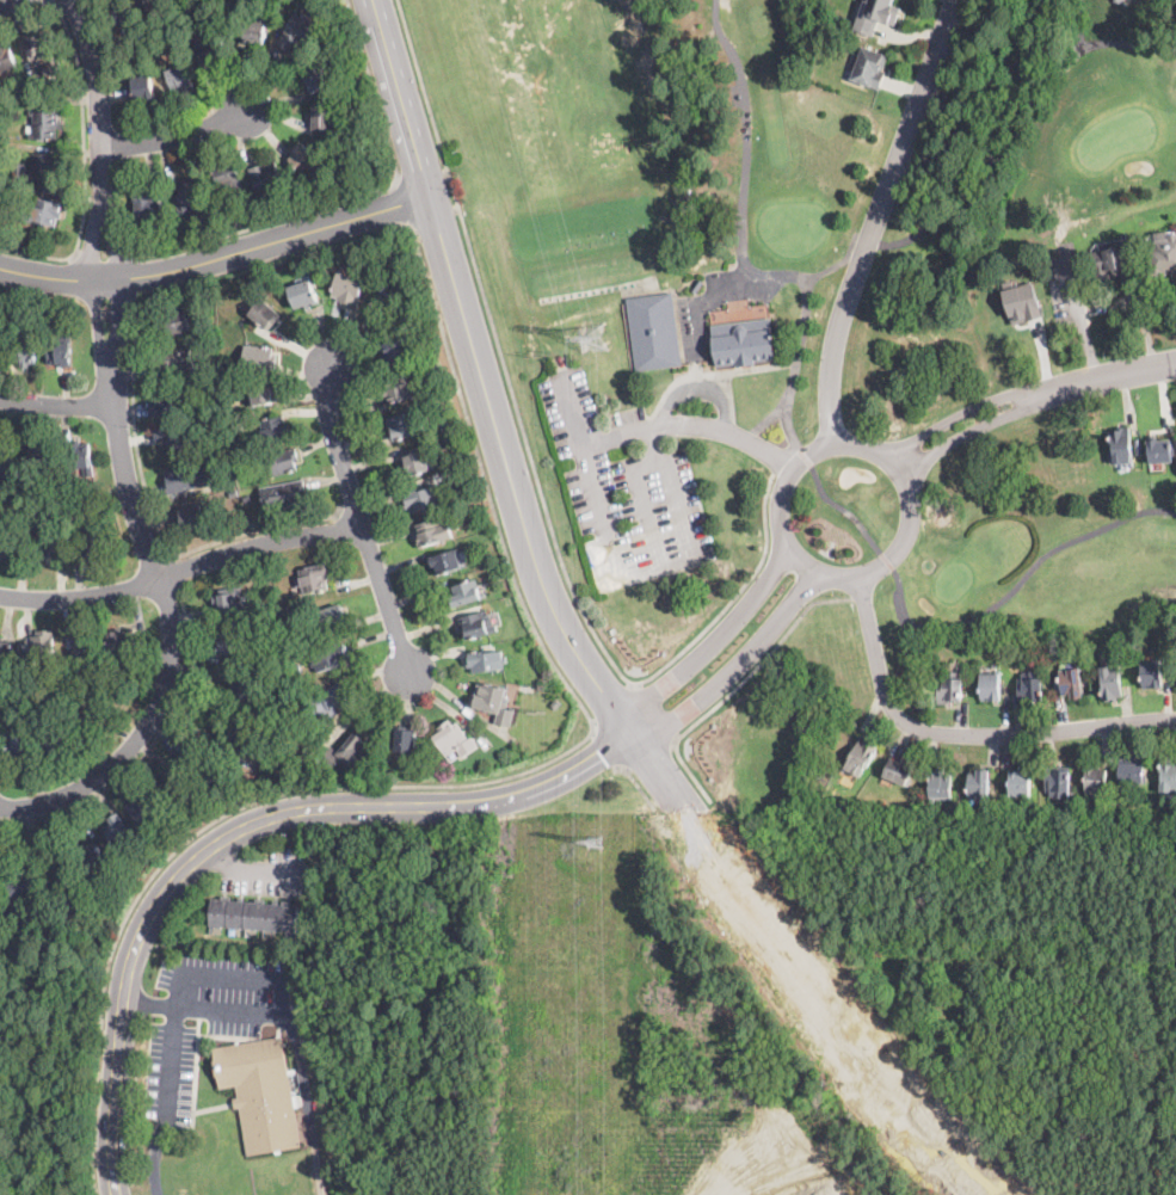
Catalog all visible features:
road: (7, 2)
building: (154, 4)
building: (124, 12)
building: (876, 13)
building: (181, 21)
road: (1078, 24)
building: (296, 30)
building: (254, 32)
building: (39, 44)
building: (210, 49)
building: (141, 51)
building: (6, 56)
building: (870, 66)
building: (51, 68)
building: (180, 75)
building: (315, 76)
building: (143, 87)
road: (399, 97)
building: (324, 116)
building: (44, 124)
road: (176, 135)
road: (745, 136)
building: (306, 158)
road: (85, 164)
building: (37, 168)
building: (339, 170)
road: (998, 170)
building: (265, 177)
building: (228, 178)
road: (349, 198)
road: (402, 202)
building: (192, 204)
building: (147, 205)
building: (43, 211)
road: (880, 218)
park: (861, 235)
building: (1162, 257)
road: (217, 258)
road: (103, 259)
building: (1114, 266)
road: (134, 276)
building: (347, 288)
building: (303, 294)
building: (390, 294)
building: (1021, 301)
building: (265, 314)
building: (172, 324)
building: (654, 332)
power tower: (595, 338)
building: (744, 343)
building: (24, 349)
building: (396, 349)
building: (60, 350)
road: (500, 350)
power tower: (538, 353)
building: (259, 357)
building: (171, 361)
building: (399, 388)
road: (700, 389)
building: (264, 393)
road: (1030, 398)
building: (171, 401)
road: (55, 405)
building: (444, 424)
building: (404, 425)
building: (275, 429)
road: (731, 432)
building: (178, 433)
road: (621, 435)
building: (1121, 446)
building: (1159, 450)
road: (121, 454)
building: (6, 455)
building: (41, 456)
building: (79, 456)
building: (281, 461)
building: (215, 462)
building: (414, 462)
building: (186, 476)
road: (593, 481)
road: (486, 485)
building: (30, 487)
parking lot: (626, 487)
building: (233, 492)
building: (283, 493)
road: (671, 494)
building: (463, 495)
building: (247, 498)
building: (423, 498)
road: (648, 505)
road: (519, 516)
building: (191, 517)
road: (154, 518)
road: (361, 522)
building: (432, 531)
road: (909, 535)
building: (92, 537)
building: (47, 541)
building: (11, 544)
building: (445, 561)
road: (887, 561)
road: (176, 571)
road: (181, 571)
building: (314, 578)
building: (467, 592)
road: (734, 596)
building: (229, 602)
building: (271, 611)
building: (330, 616)
building: (476, 624)
road: (714, 637)
building: (121, 640)
building: (230, 642)
building: (41, 645)
building: (270, 645)
building: (82, 647)
building: (5, 654)
building: (330, 657)
building: (486, 659)
road: (737, 660)
road: (755, 666)
building: (296, 667)
building: (1152, 673)
building: (1072, 682)
building: (1112, 682)
building: (990, 685)
building: (952, 686)
building: (1030, 686)
building: (242, 689)
building: (330, 700)
building: (494, 702)
building: (555, 704)
road: (615, 707)
power tower: (540, 712)
road: (653, 713)
building: (88, 719)
road: (961, 735)
building: (241, 737)
building: (405, 738)
building: (454, 738)
building: (17, 741)
building: (51, 741)
road: (147, 749)
road: (605, 751)
building: (347, 753)
road: (649, 756)
building: (860, 756)
building: (201, 759)
building: (1133, 770)
building: (899, 771)
building: (1168, 775)
building: (1058, 780)
building: (1096, 780)
building: (1020, 782)
road: (638, 784)
building: (979, 786)
building: (941, 788)
building: (174, 789)
building: (142, 806)
building: (841, 808)
building: (953, 812)
building: (1107, 813)
building: (166, 825)
road: (207, 826)
building: (118, 830)
road: (242, 830)
power tower: (592, 839)
building: (92, 858)
road: (252, 868)
parking lot: (265, 873)
building: (61, 874)
building: (21, 887)
building: (255, 916)
road: (233, 975)
road: (150, 1004)
parking lot: (210, 1016)
building: (260, 1092)
road: (304, 1105)
road: (154, 1157)

